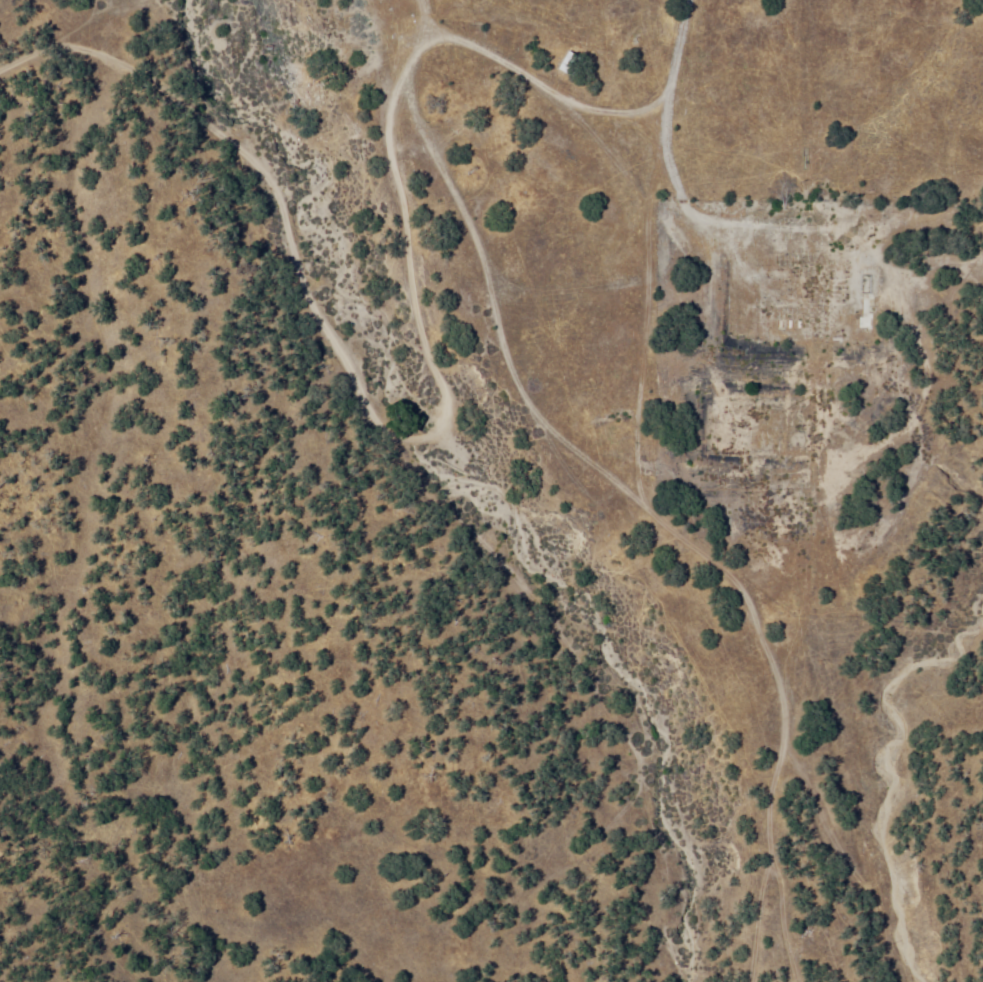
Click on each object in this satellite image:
building: (568, 60)
building: (864, 322)
building: (763, 441)
road: (657, 510)

